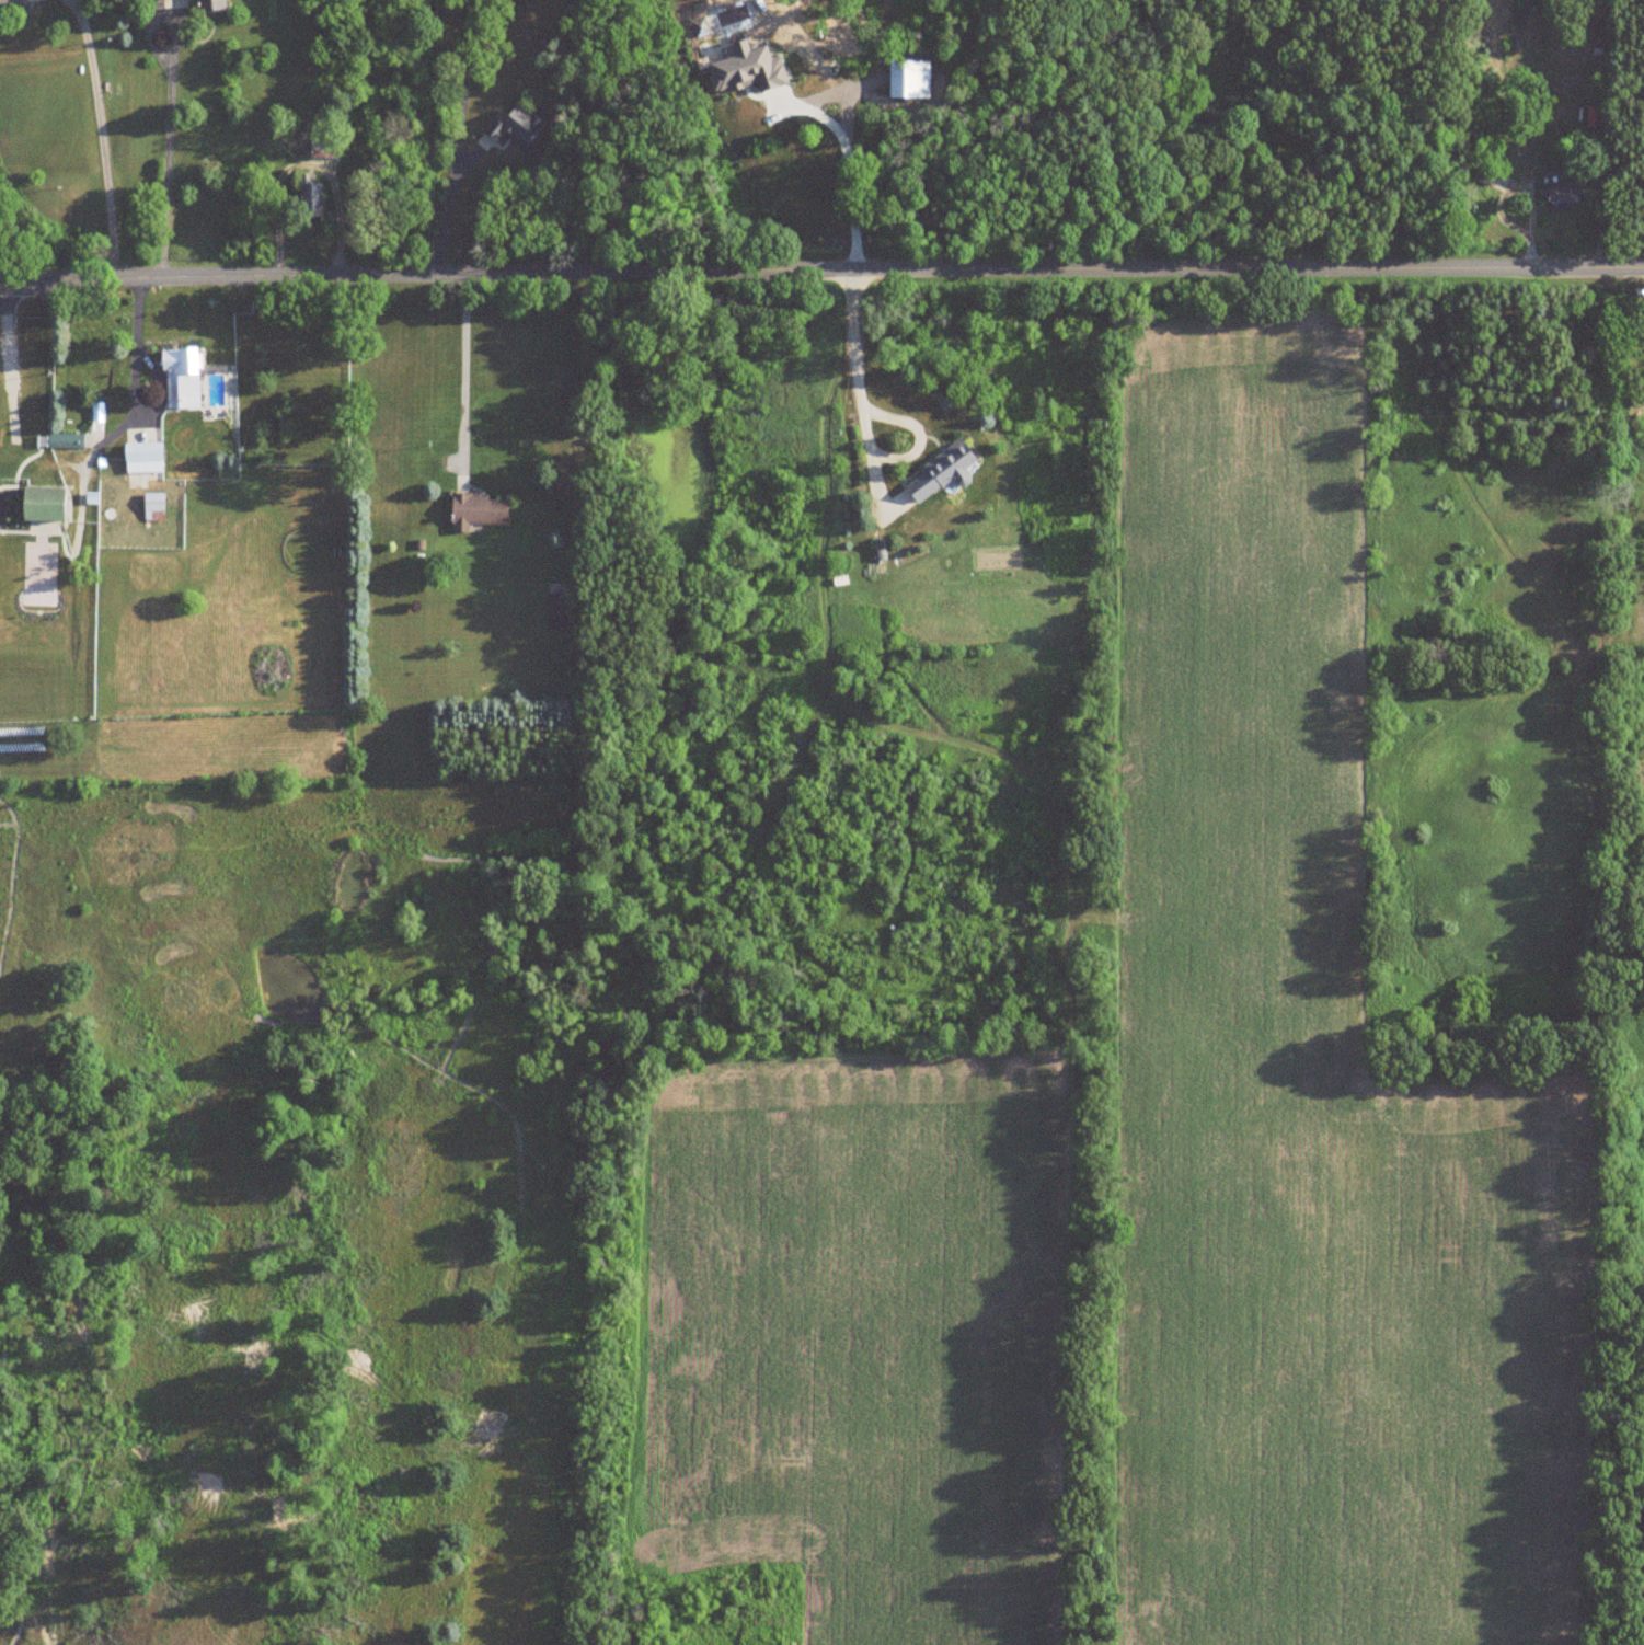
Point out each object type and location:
building: (20, 2)
building: (211, 7)
building: (908, 81)
building: (782, 97)
road: (826, 120)
building: (515, 129)
road: (102, 136)
road: (458, 138)
road: (168, 142)
building: (324, 148)
road: (304, 162)
building: (1484, 175)
building: (1560, 194)
building: (310, 196)
road: (821, 271)
road: (464, 363)
road: (135, 368)
road: (858, 375)
building: (183, 378)
building: (65, 440)
building: (142, 457)
building: (940, 472)
building: (42, 504)
building: (153, 507)
building: (478, 511)
building: (557, 609)

